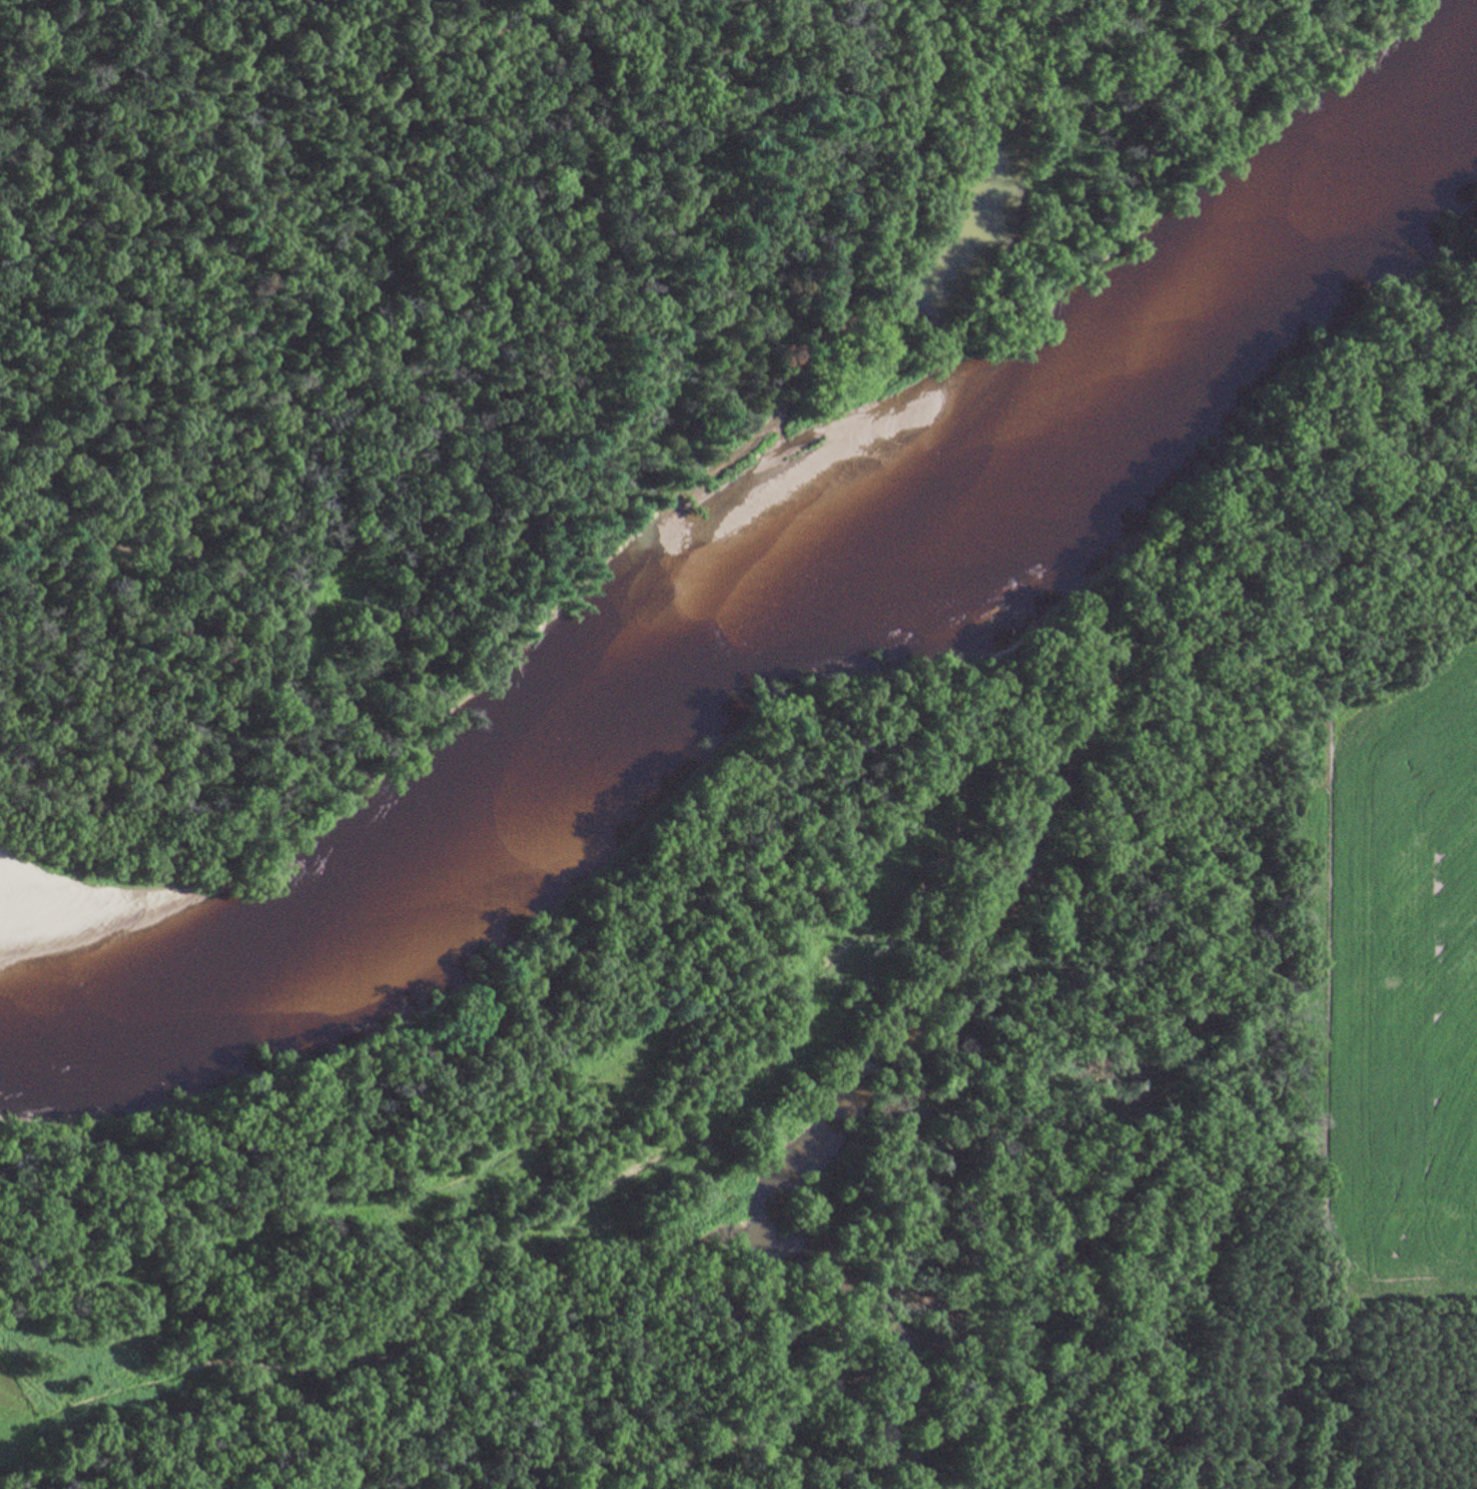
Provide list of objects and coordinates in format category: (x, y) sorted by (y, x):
river: (752, 597)

